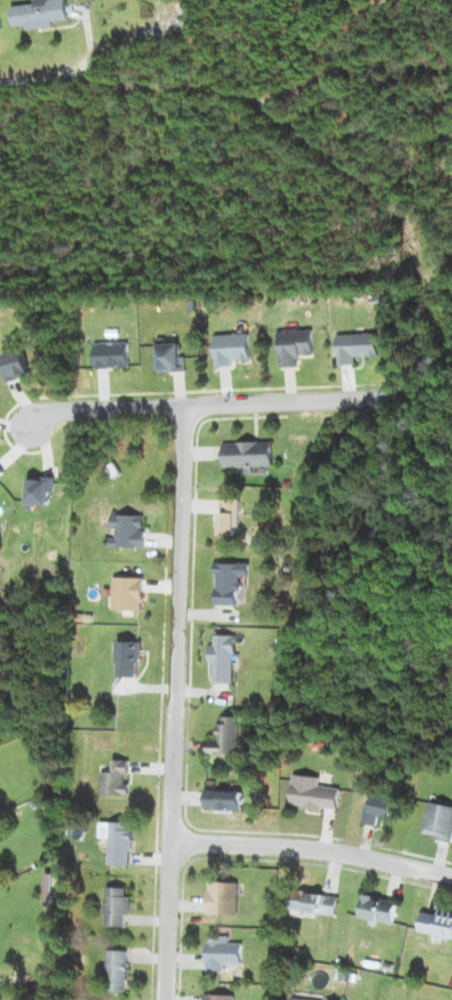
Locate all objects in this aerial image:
building: (40, 13)
building: (294, 346)
building: (356, 346)
building: (231, 348)
building: (111, 355)
building: (170, 358)
building: (15, 364)
road: (235, 403)
building: (247, 455)
building: (1, 471)
building: (37, 491)
building: (230, 516)
building: (127, 531)
building: (230, 582)
building: (127, 593)
building: (128, 658)
building: (222, 658)
road: (173, 702)
building: (226, 737)
building: (115, 779)
building: (313, 793)
building: (224, 799)
building: (379, 810)
building: (438, 821)
building: (118, 841)
road: (311, 850)
building: (223, 898)
building: (314, 903)
building: (117, 906)
building: (379, 909)
building: (437, 923)
building: (222, 953)
building: (117, 971)
building: (218, 997)
building: (298, 999)

